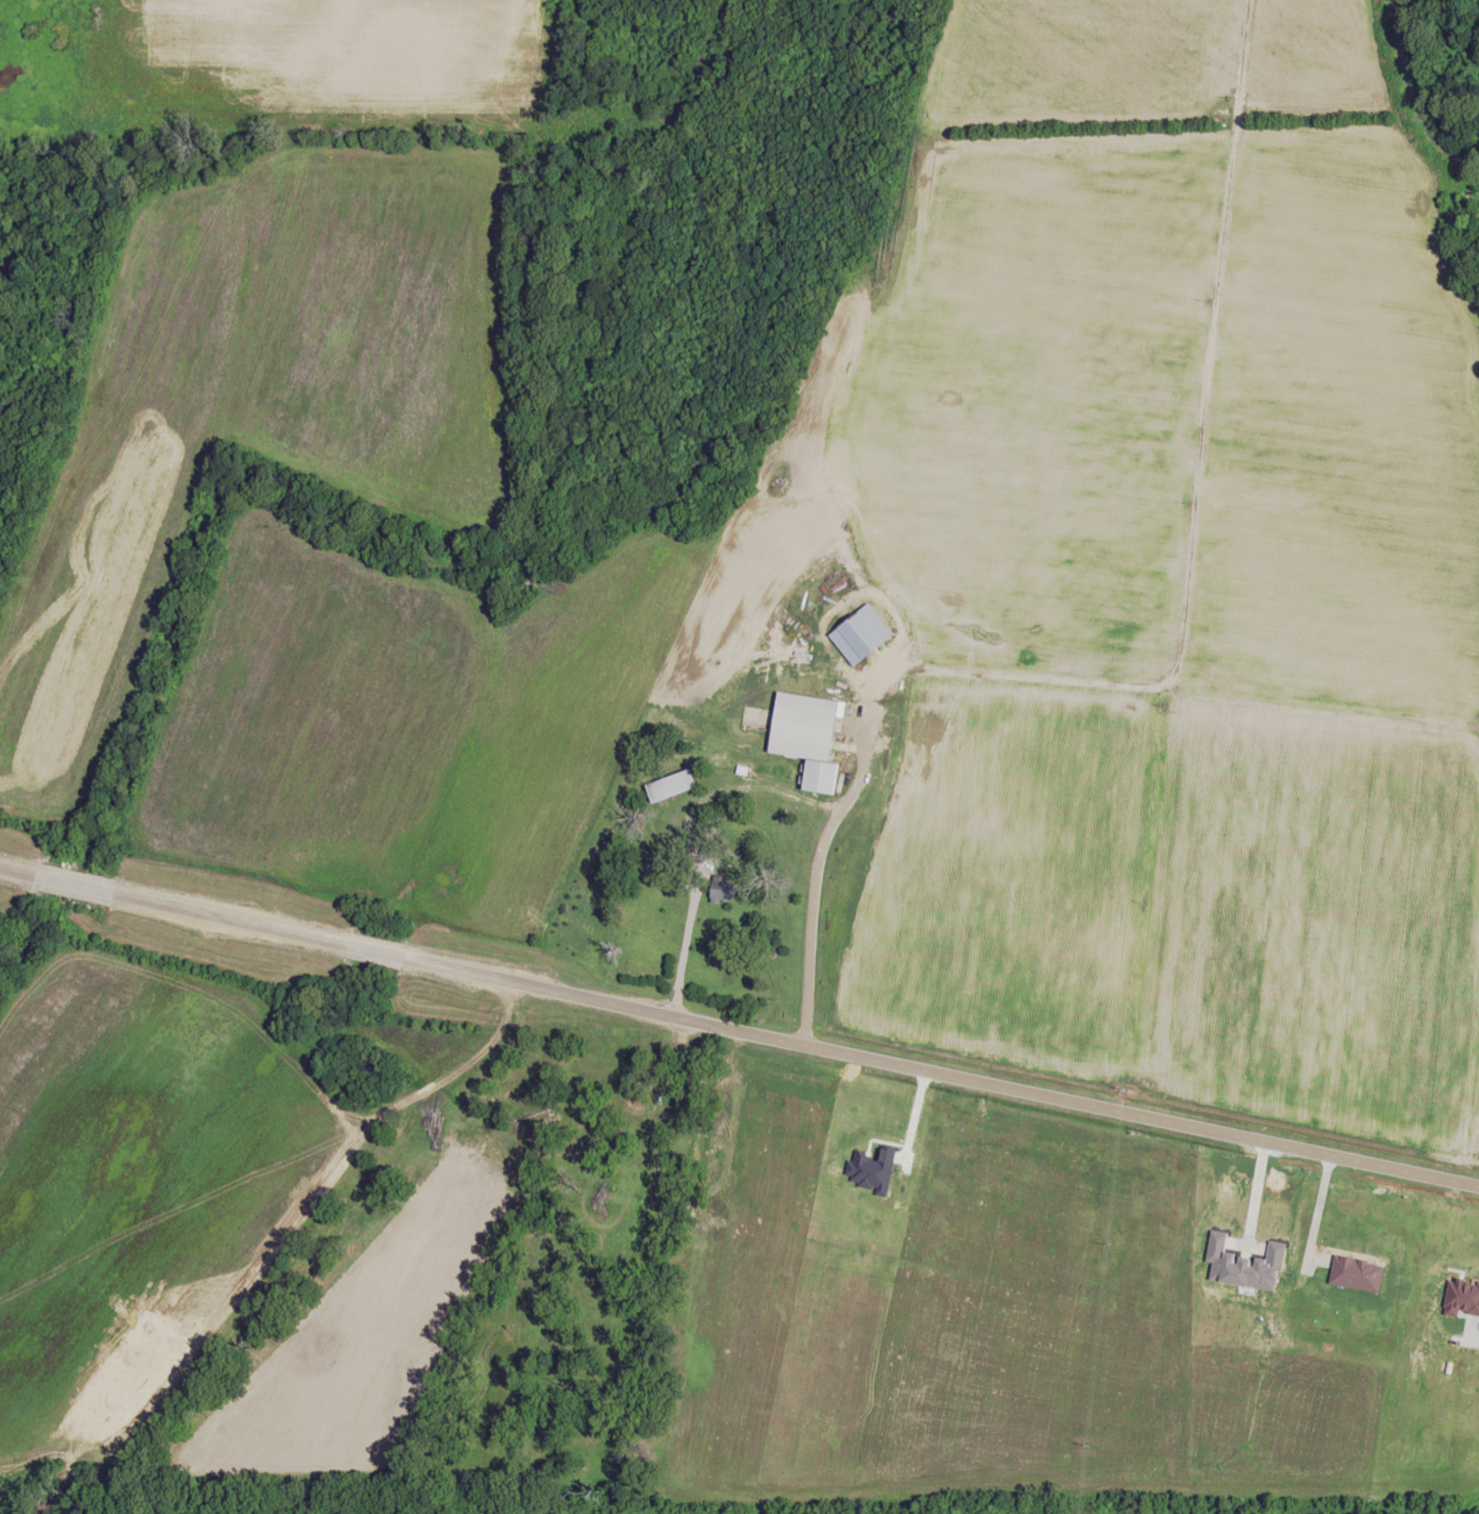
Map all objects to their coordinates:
road: (1193, 498)
building: (863, 635)
building: (810, 737)
road: (816, 841)
building: (725, 890)
road: (679, 953)
road: (738, 1031)

